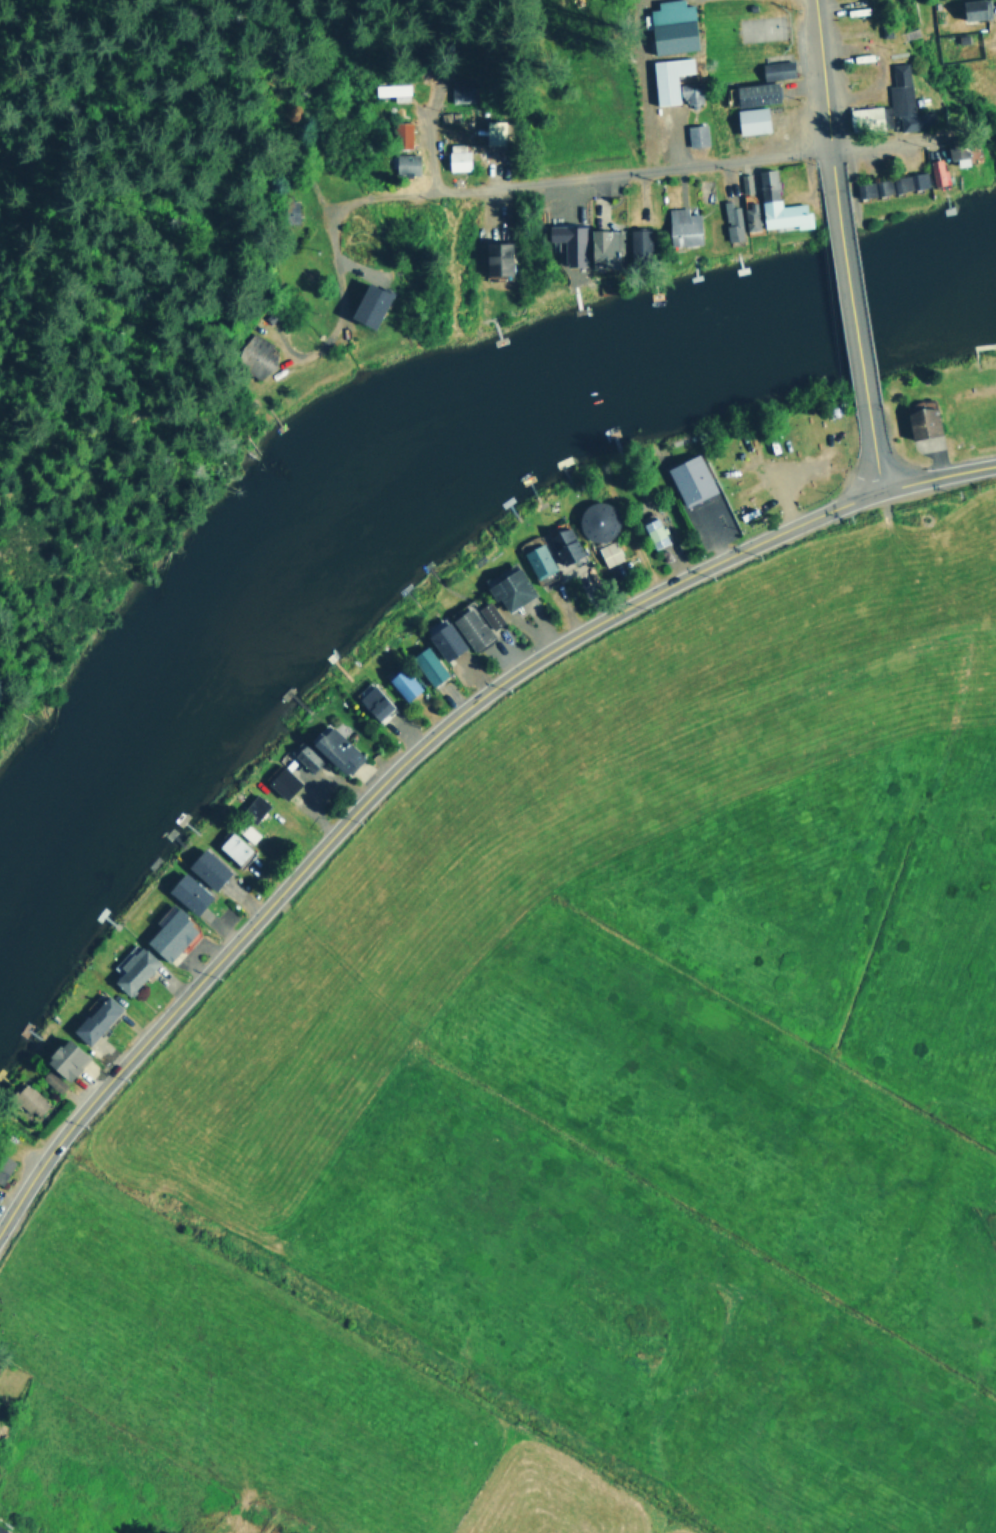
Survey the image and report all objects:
building: (972, 9)
building: (672, 26)
building: (774, 69)
building: (666, 77)
road: (822, 83)
building: (390, 88)
building: (461, 92)
building: (689, 92)
building: (754, 93)
building: (890, 105)
building: (750, 121)
building: (494, 131)
building: (401, 134)
building: (695, 135)
building: (955, 153)
building: (456, 159)
building: (405, 163)
building: (936, 171)
road: (486, 182)
building: (889, 184)
building: (765, 185)
building: (730, 220)
building: (680, 226)
building: (636, 241)
building: (581, 244)
building: (495, 259)
road: (853, 302)
building: (366, 305)
building: (254, 356)
park: (786, 453)
road: (876, 462)
river: (420, 467)
road: (937, 469)
building: (688, 478)
building: (595, 520)
building: (651, 531)
building: (561, 544)
building: (607, 552)
building: (535, 559)
building: (507, 588)
building: (487, 614)
building: (468, 627)
building: (442, 639)
building: (425, 664)
building: (400, 682)
building: (372, 701)
building: (334, 749)
building: (304, 756)
building: (280, 782)
road: (382, 788)
building: (251, 807)
building: (246, 832)
building: (231, 847)
building: (205, 868)
building: (185, 892)
building: (167, 932)
building: (130, 968)
building: (93, 1018)
building: (62, 1057)
building: (50, 1080)
building: (26, 1099)
crop: (588, 1112)
building: (4, 1164)
building: (1, 1531)

